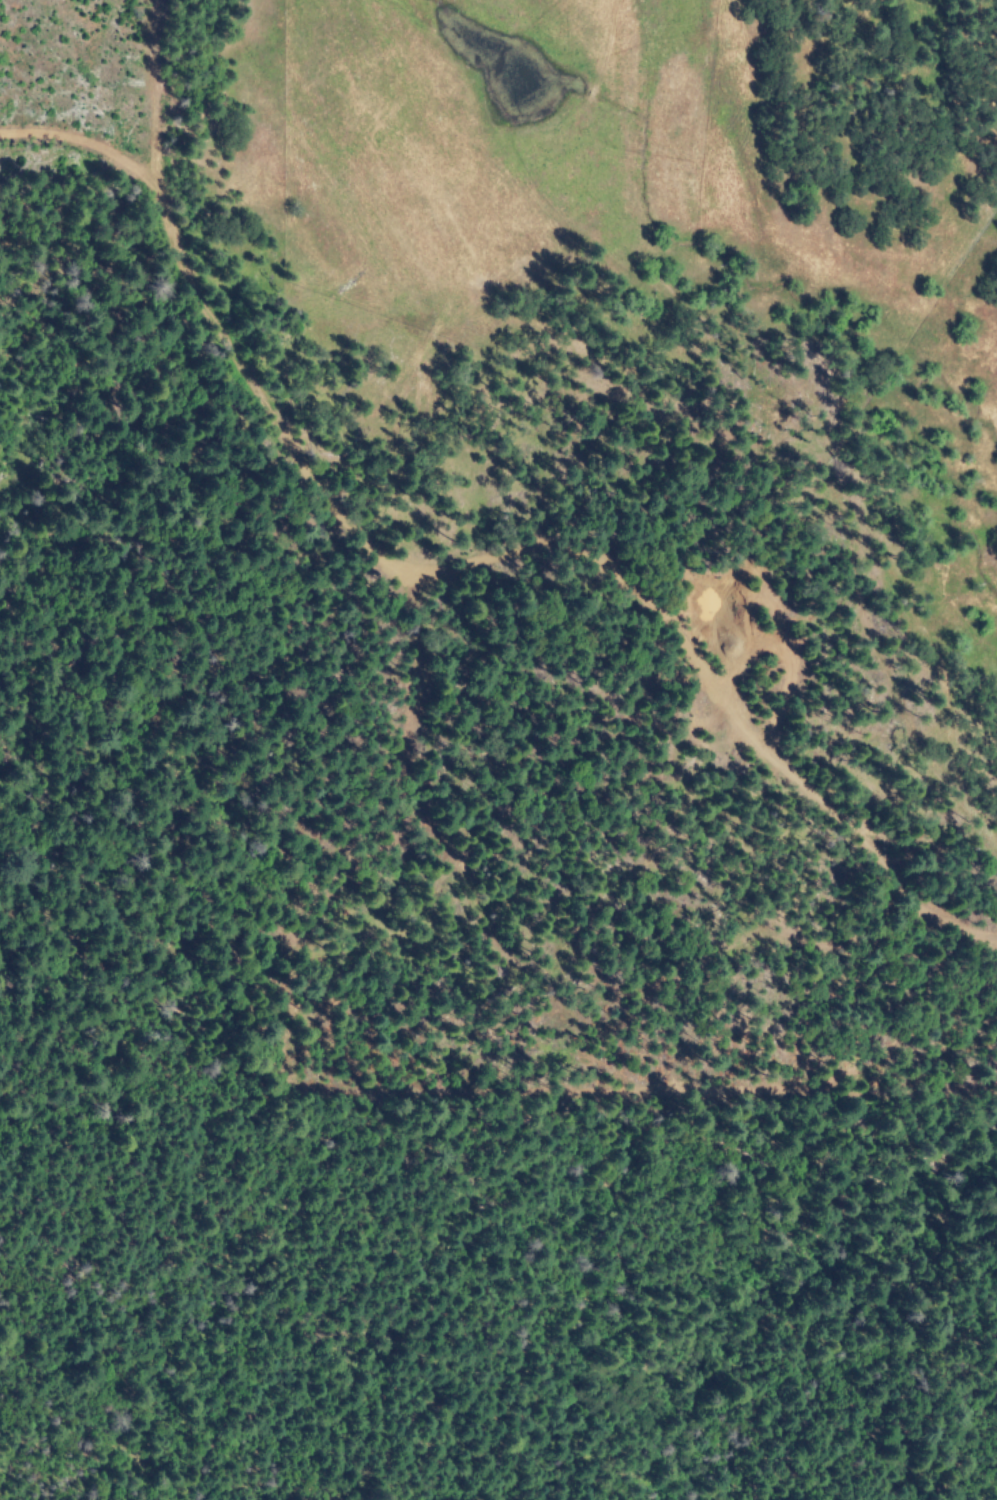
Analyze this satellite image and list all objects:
road: (343, 440)
road: (859, 843)

